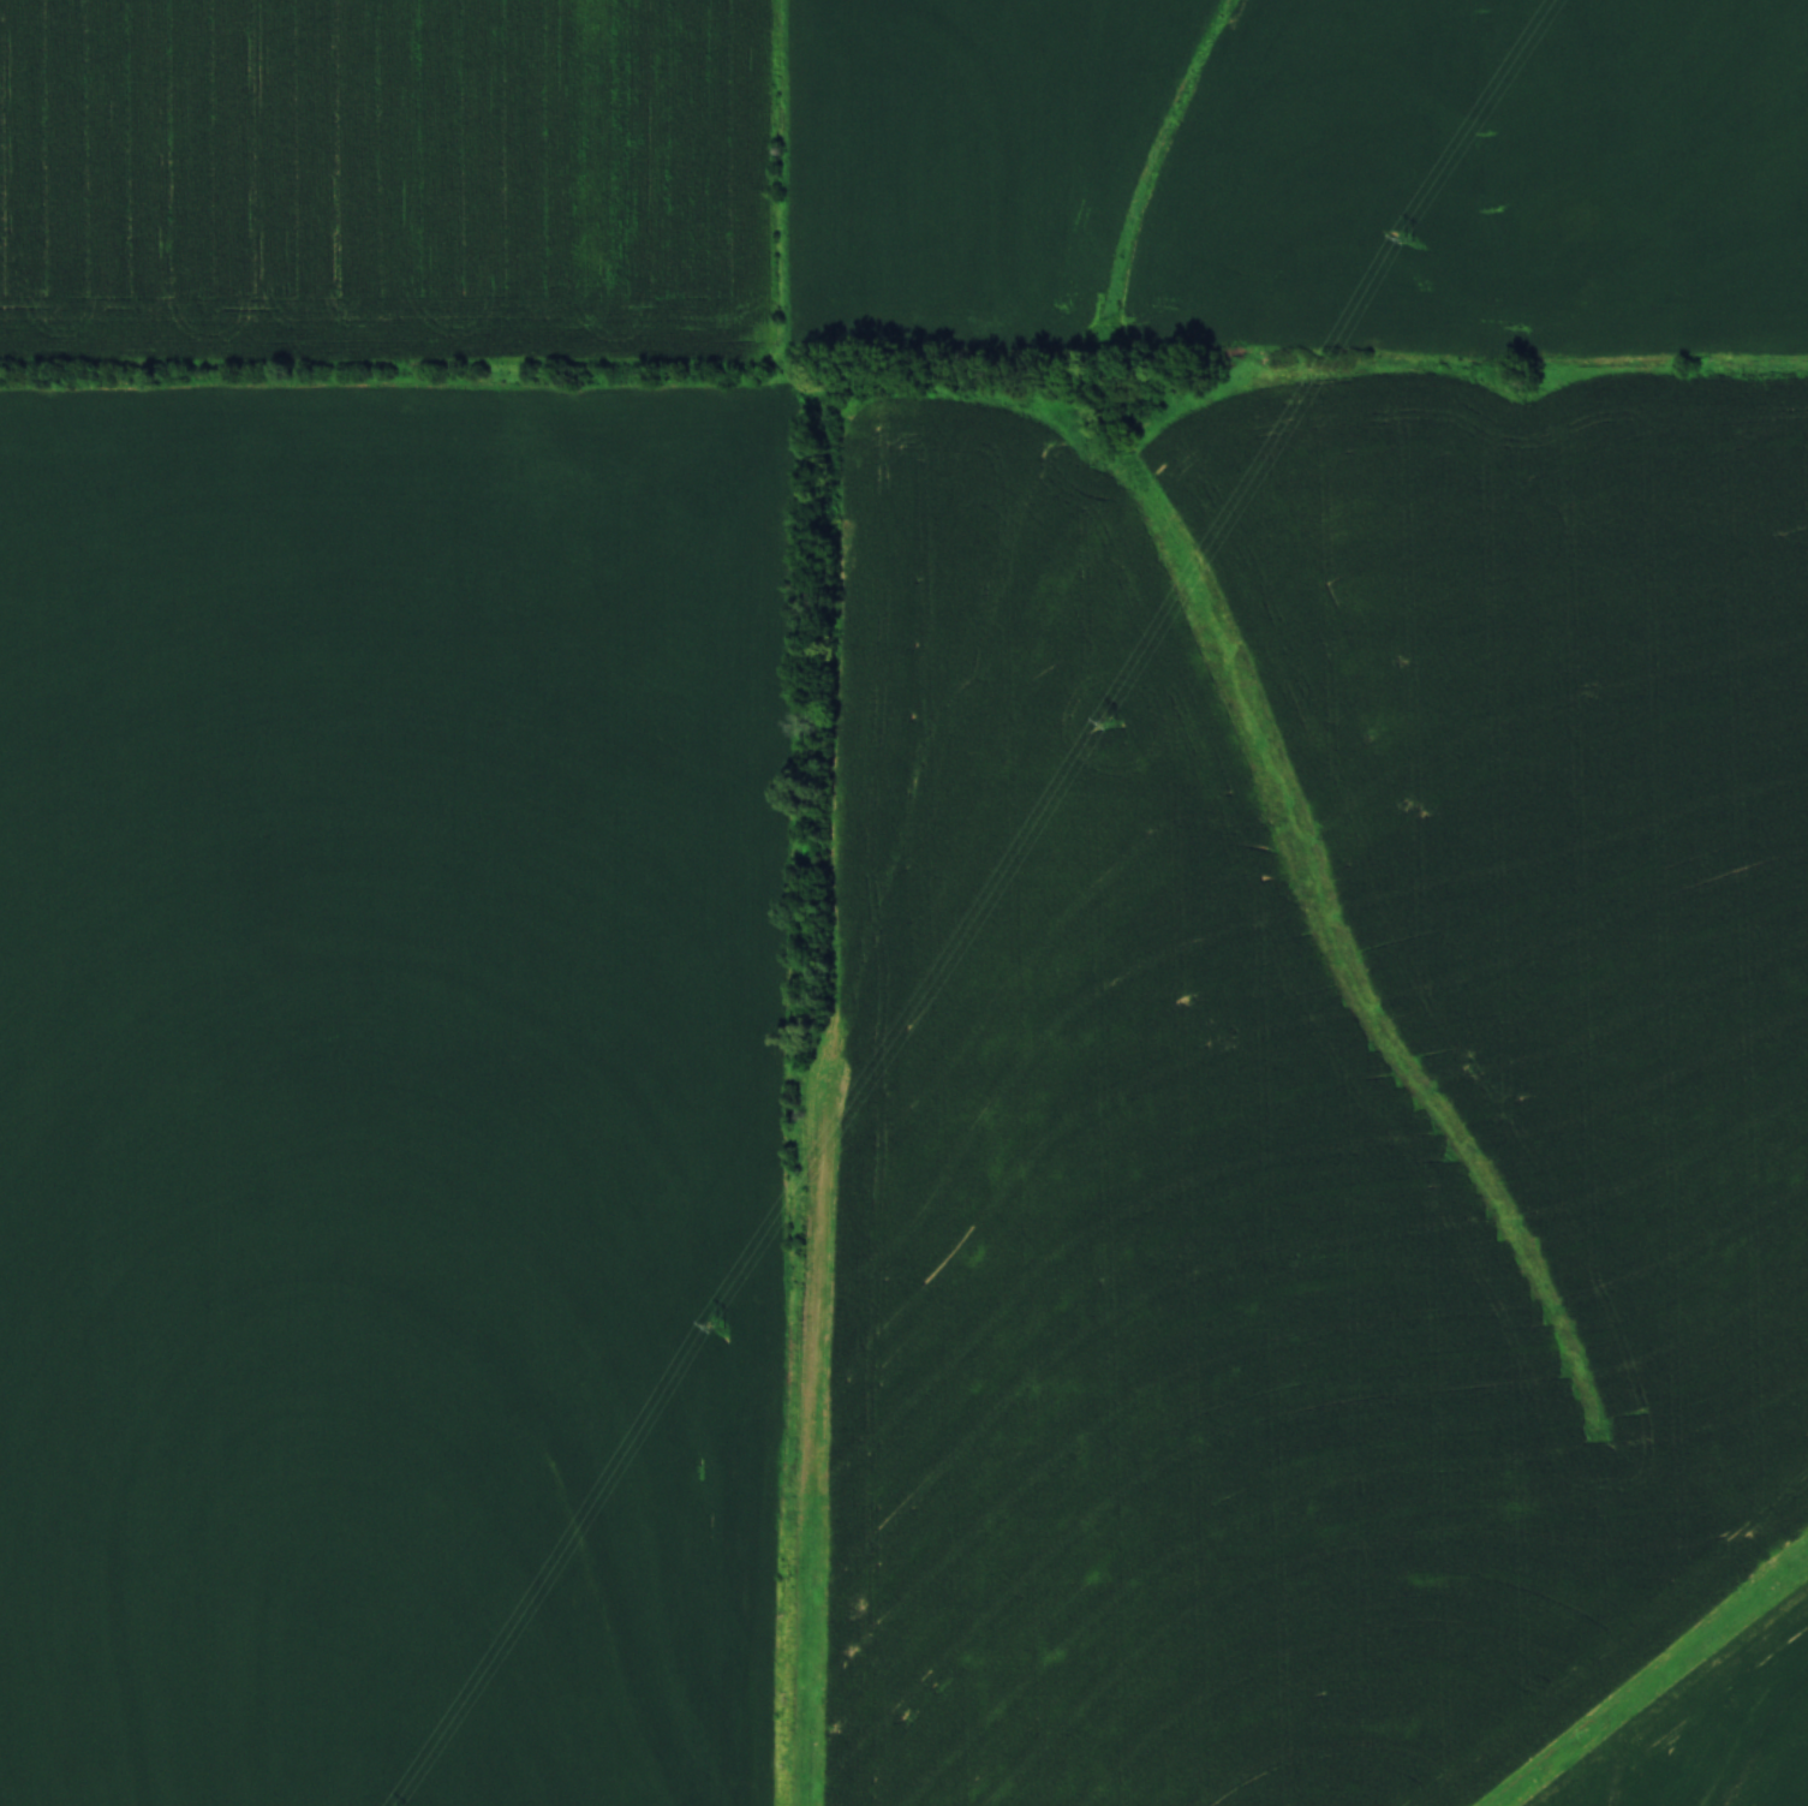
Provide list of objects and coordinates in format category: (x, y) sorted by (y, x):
road: (798, 196)
power tower: (1409, 240)
power tower: (1112, 723)
power tower: (721, 1324)

